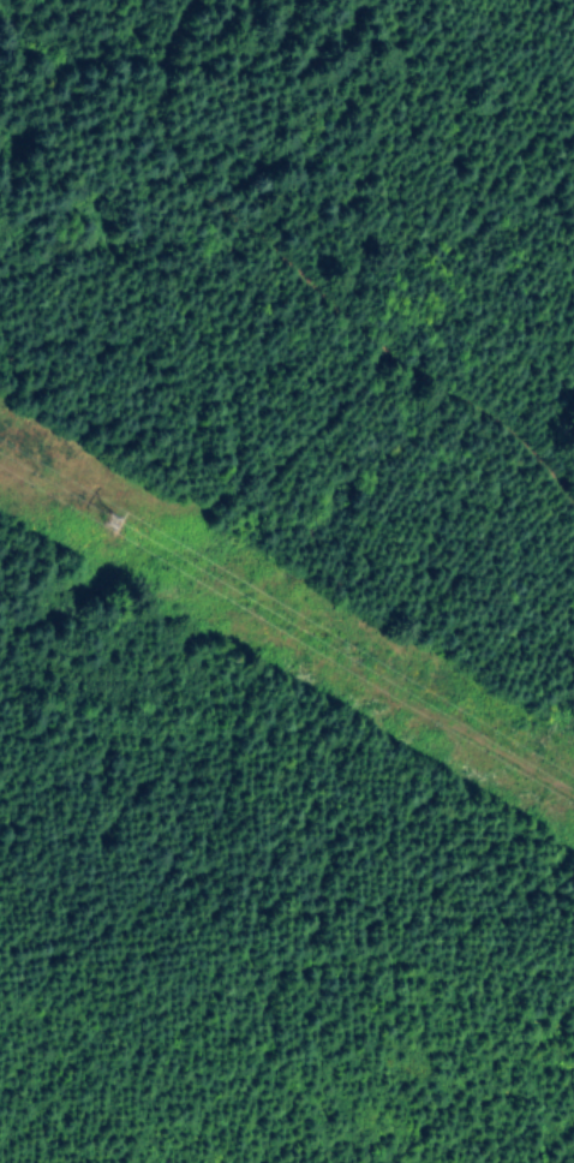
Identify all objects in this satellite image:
road: (313, 274)
power tower: (106, 506)

